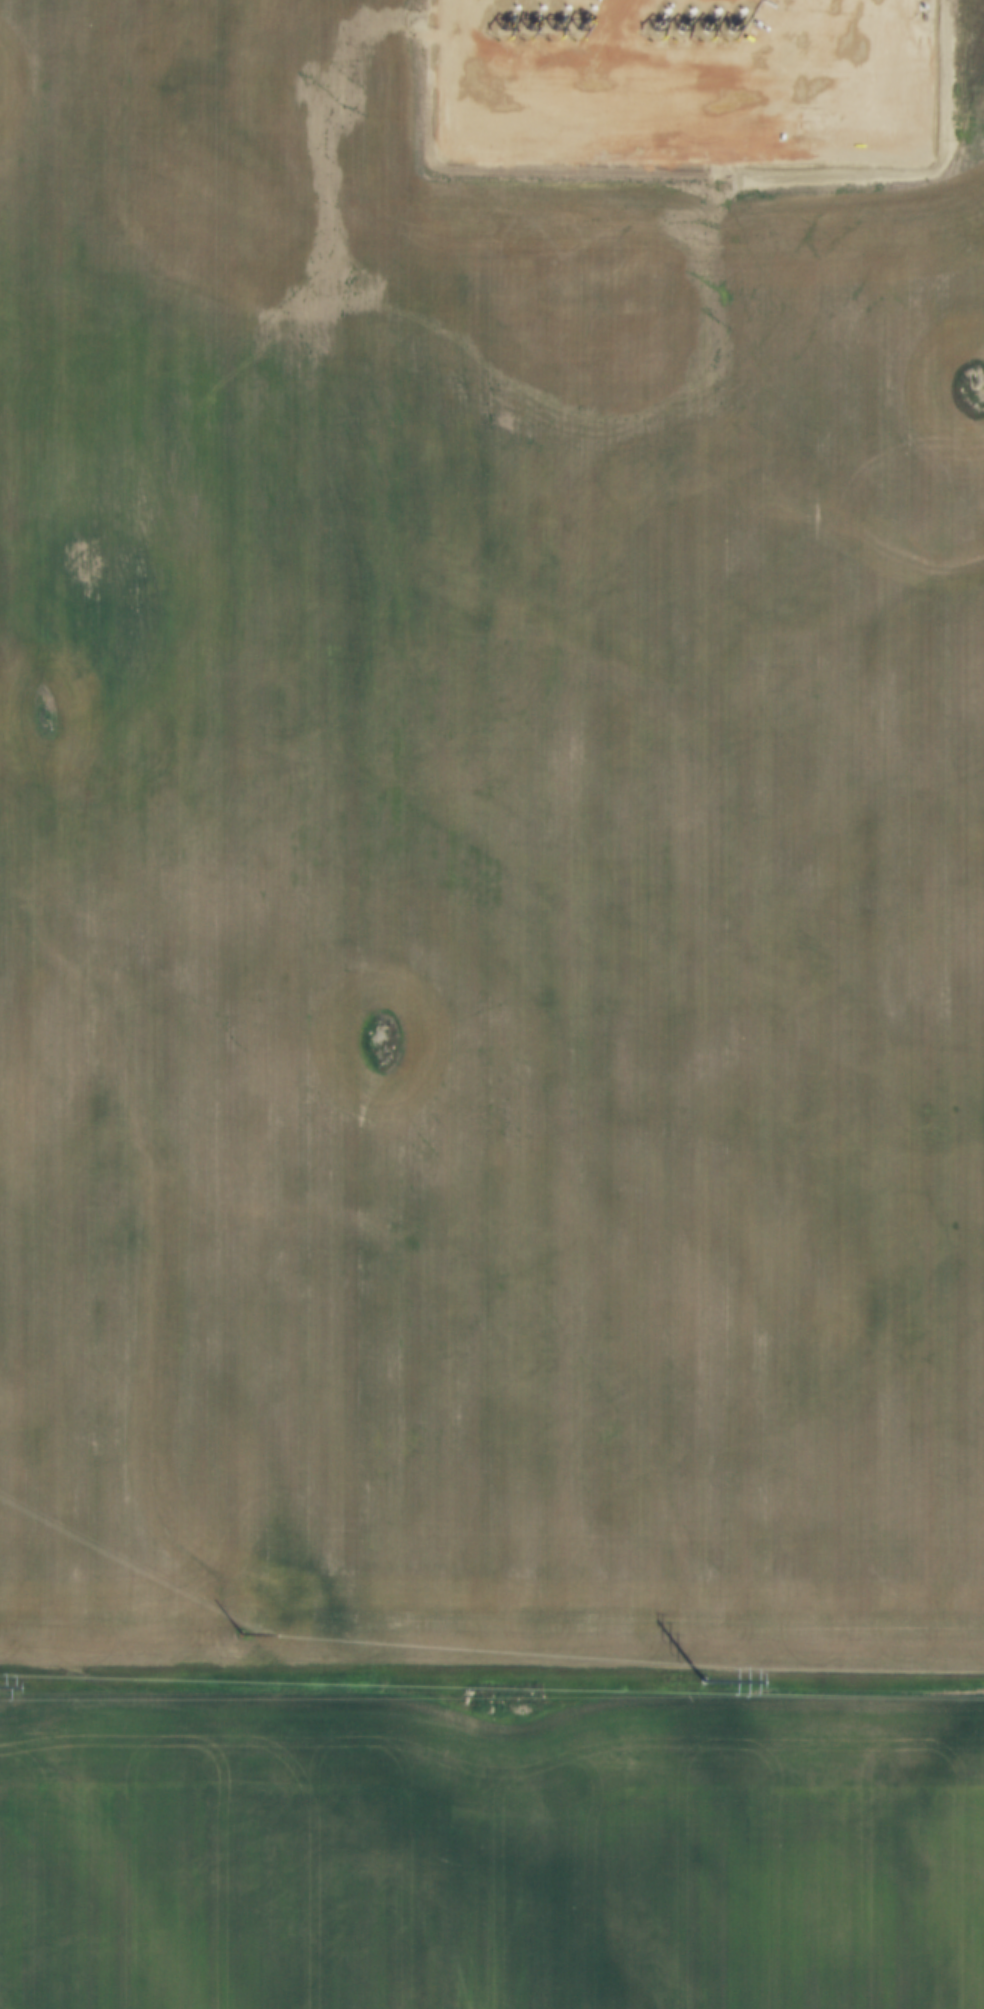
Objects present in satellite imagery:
power tower: (700, 1679)

